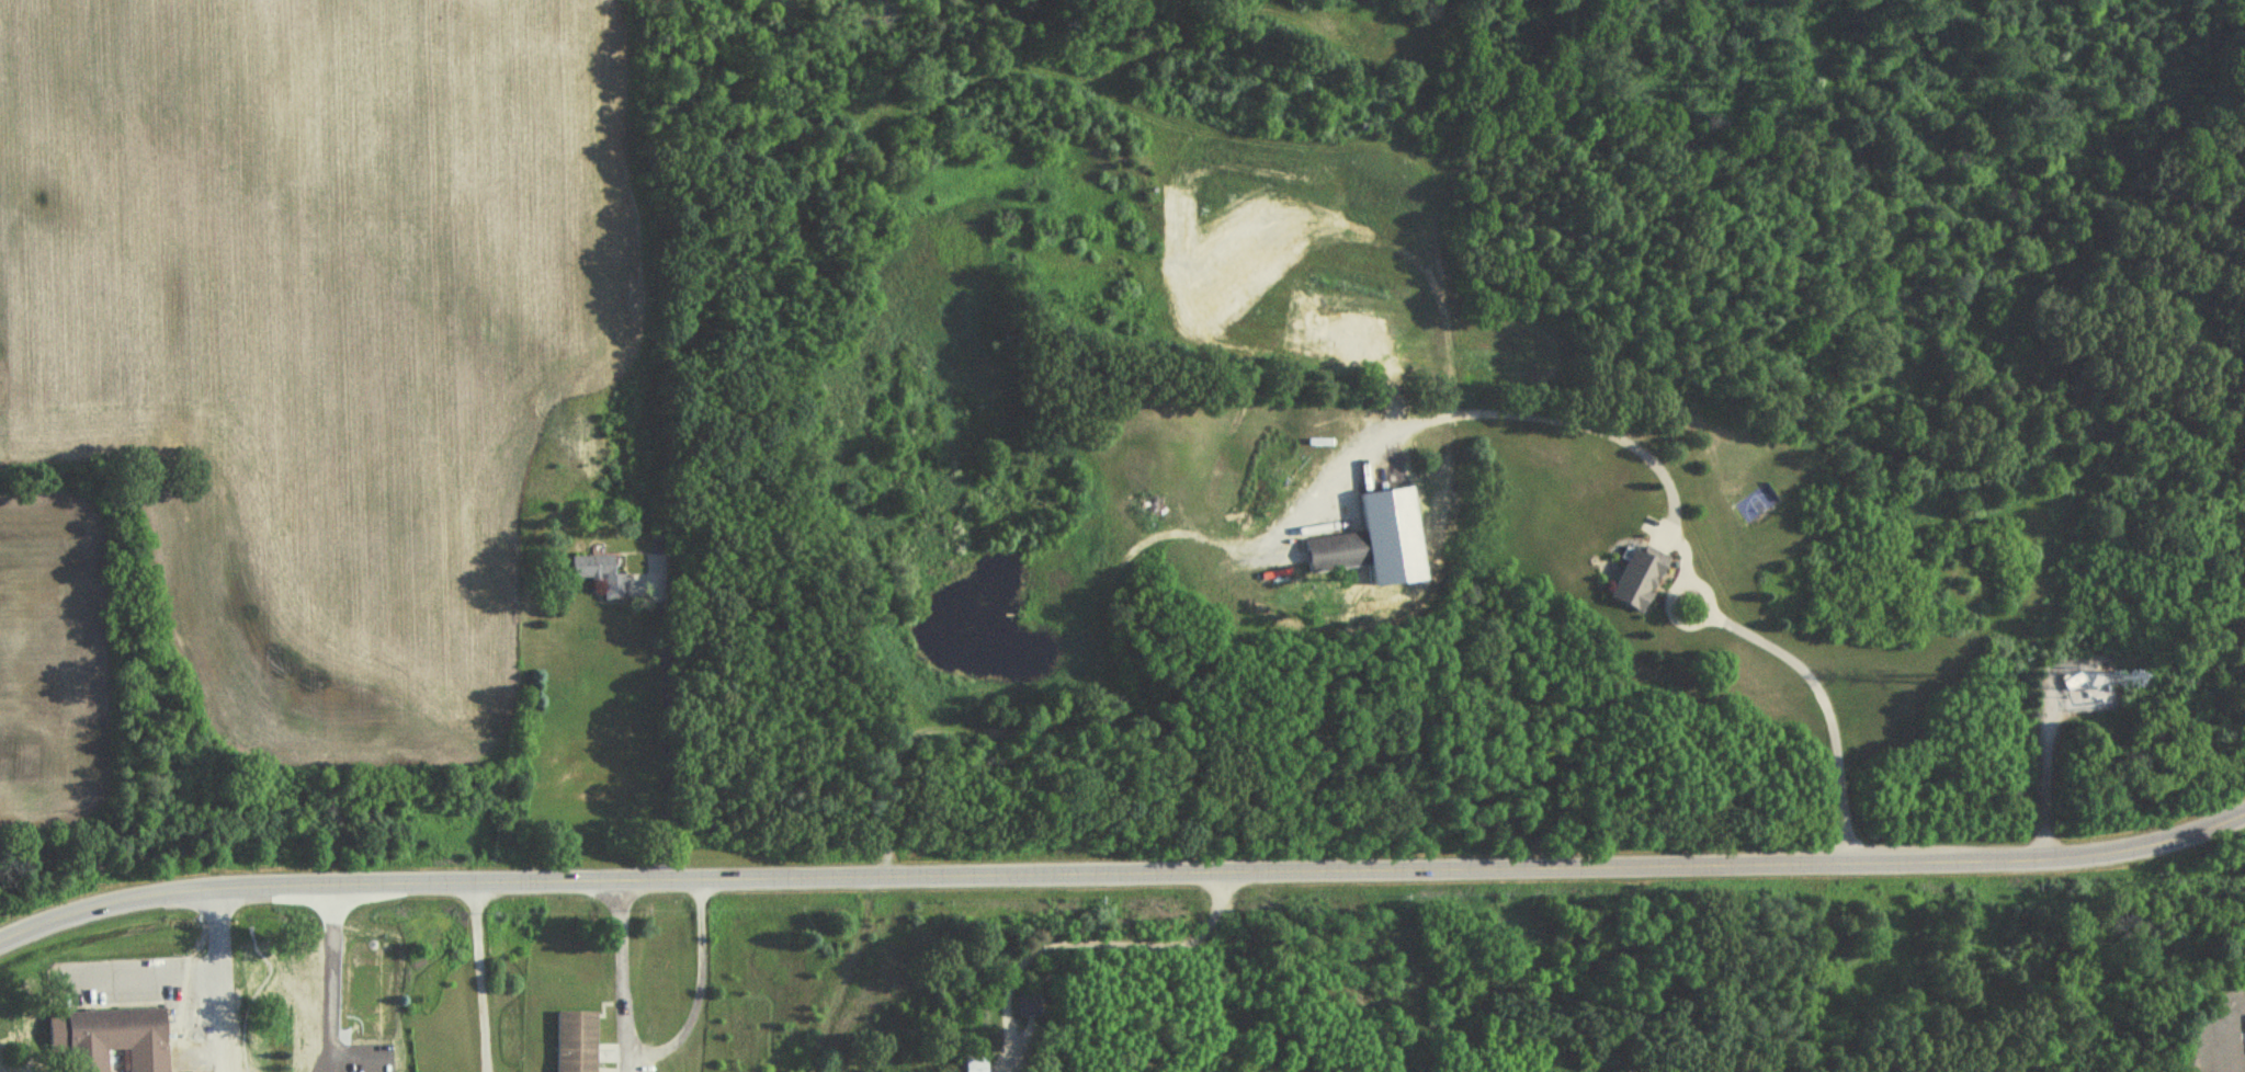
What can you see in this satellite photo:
road: (1676, 522)
building: (1335, 550)
building: (589, 564)
building: (1634, 579)
building: (611, 588)
road: (666, 728)
road: (1121, 876)
road: (193, 970)
road: (327, 977)
road: (480, 978)
building: (1023, 1003)
road: (2235, 1020)
building: (110, 1039)
building: (575, 1042)
road: (654, 1046)
building: (970, 1061)
building: (193, 1071)

